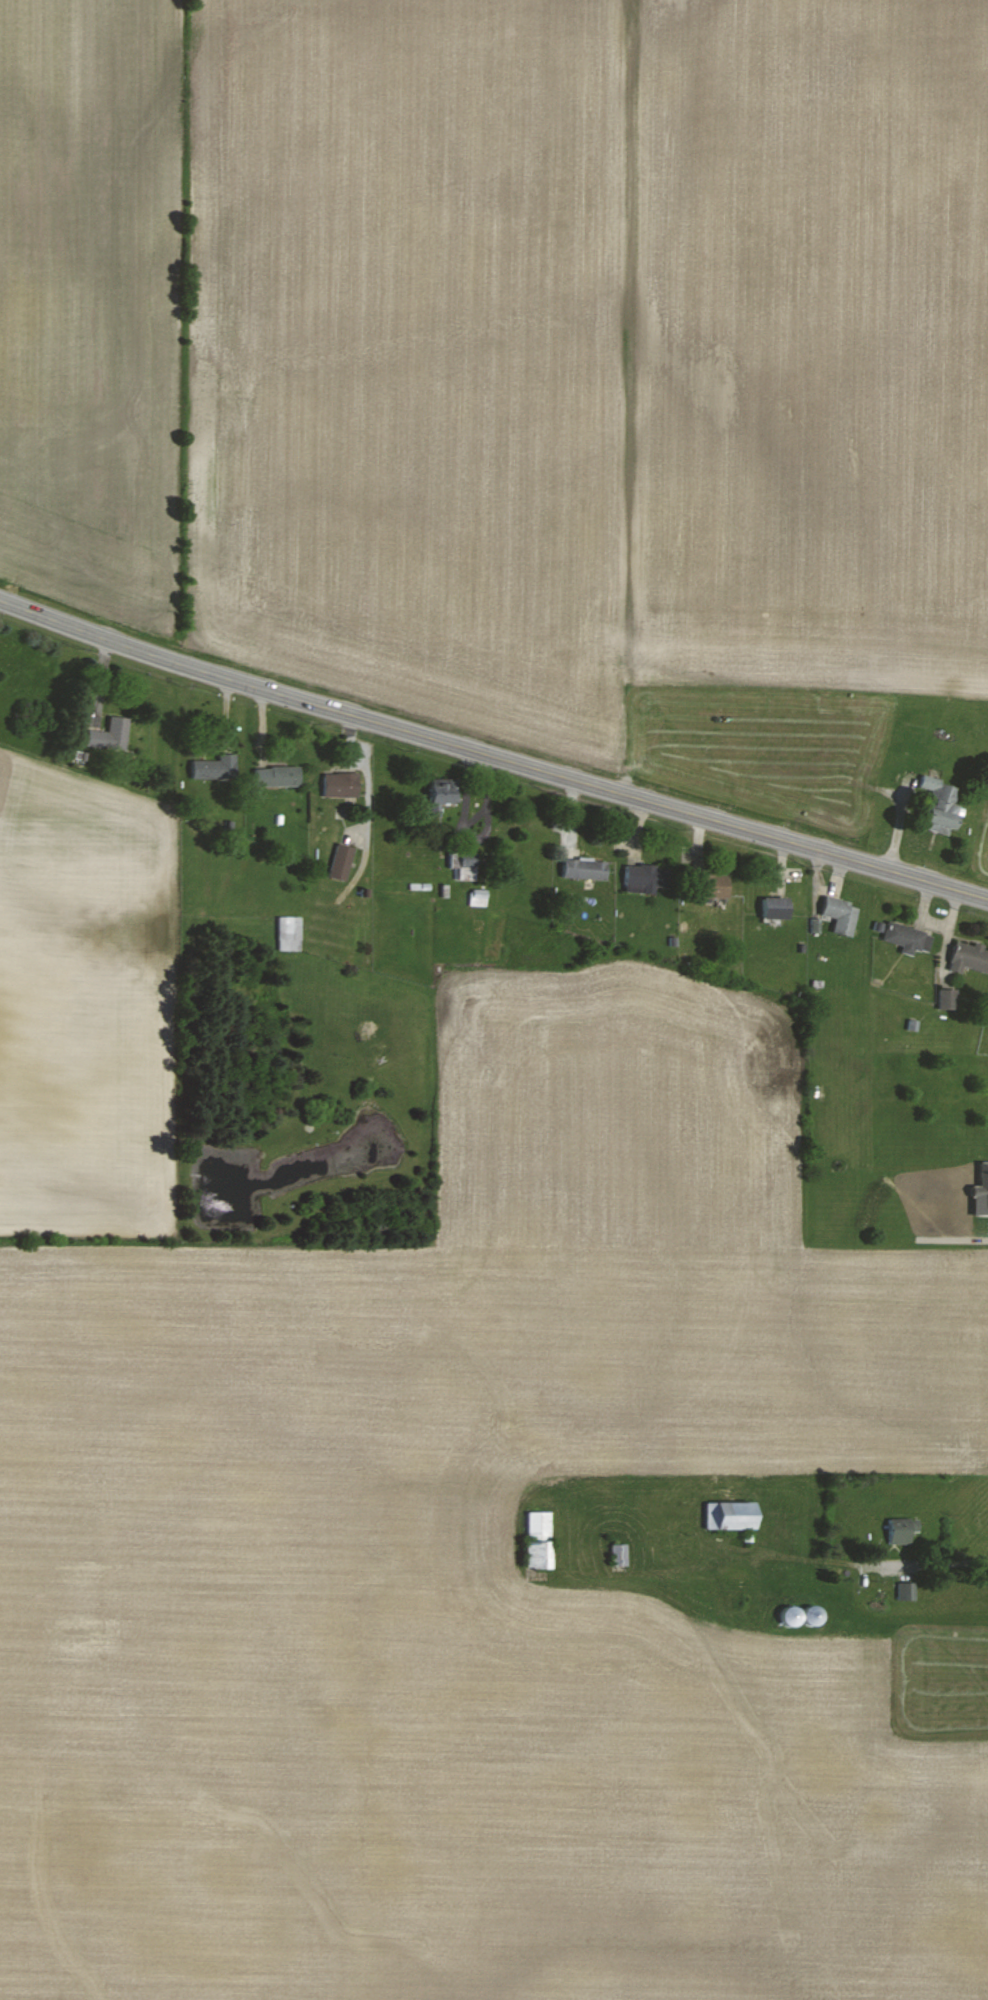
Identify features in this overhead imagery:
building: (110, 733)
road: (491, 755)
building: (277, 775)
building: (341, 784)
building: (445, 793)
building: (940, 805)
building: (341, 861)
building: (463, 867)
building: (584, 868)
building: (644, 877)
building: (712, 885)
building: (478, 897)
building: (775, 907)
building: (841, 914)
building: (814, 925)
building: (289, 933)
building: (907, 937)
building: (970, 957)
building: (947, 998)
building: (981, 1191)
building: (730, 1516)
building: (901, 1530)
building: (538, 1540)
building: (619, 1555)
road: (938, 1564)
building: (906, 1591)
building: (801, 1616)

